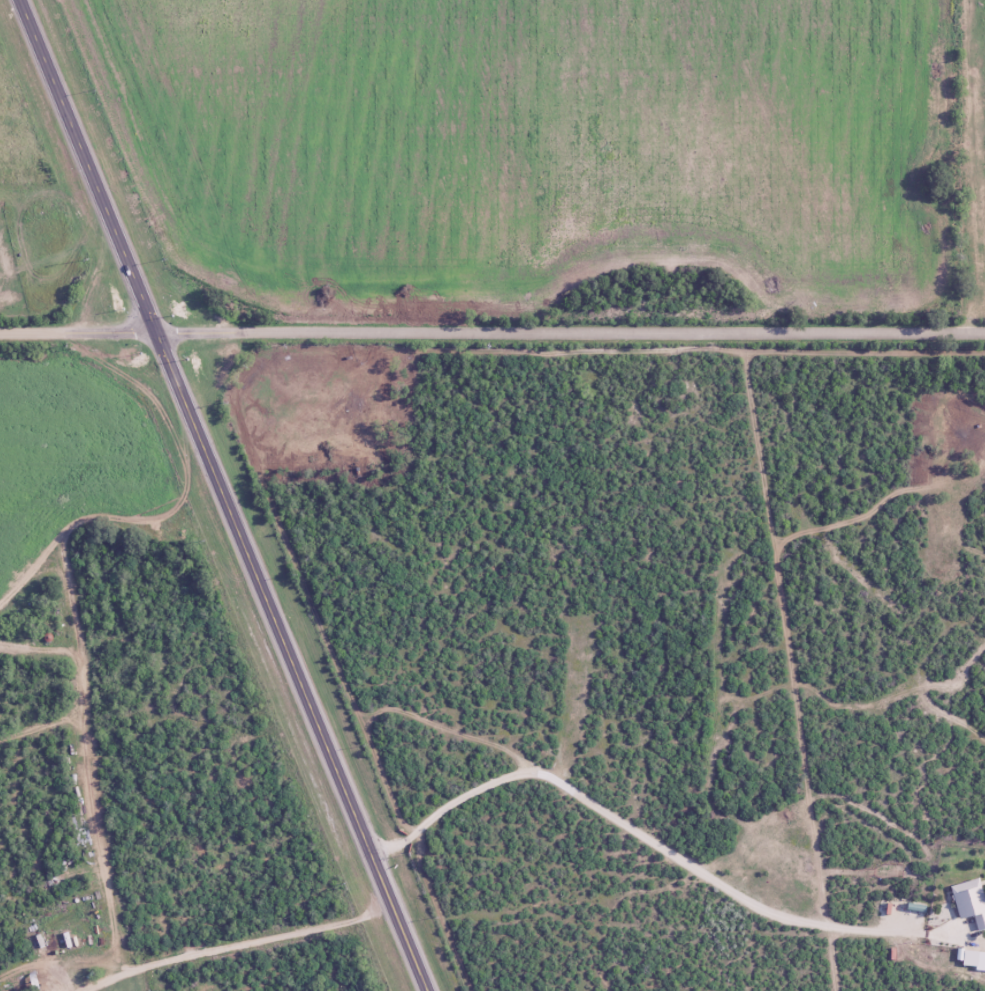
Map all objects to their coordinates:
power tower: (87, 260)
road: (76, 331)
road: (569, 331)
road: (185, 443)
road: (223, 495)
power tower: (200, 540)
road: (32, 570)
road: (38, 647)
road: (79, 719)
road: (39, 727)
building: (331, 780)
road: (629, 829)
power tower: (341, 886)
building: (967, 902)
building: (965, 958)
road: (38, 965)
road: (102, 982)
building: (30, 983)

